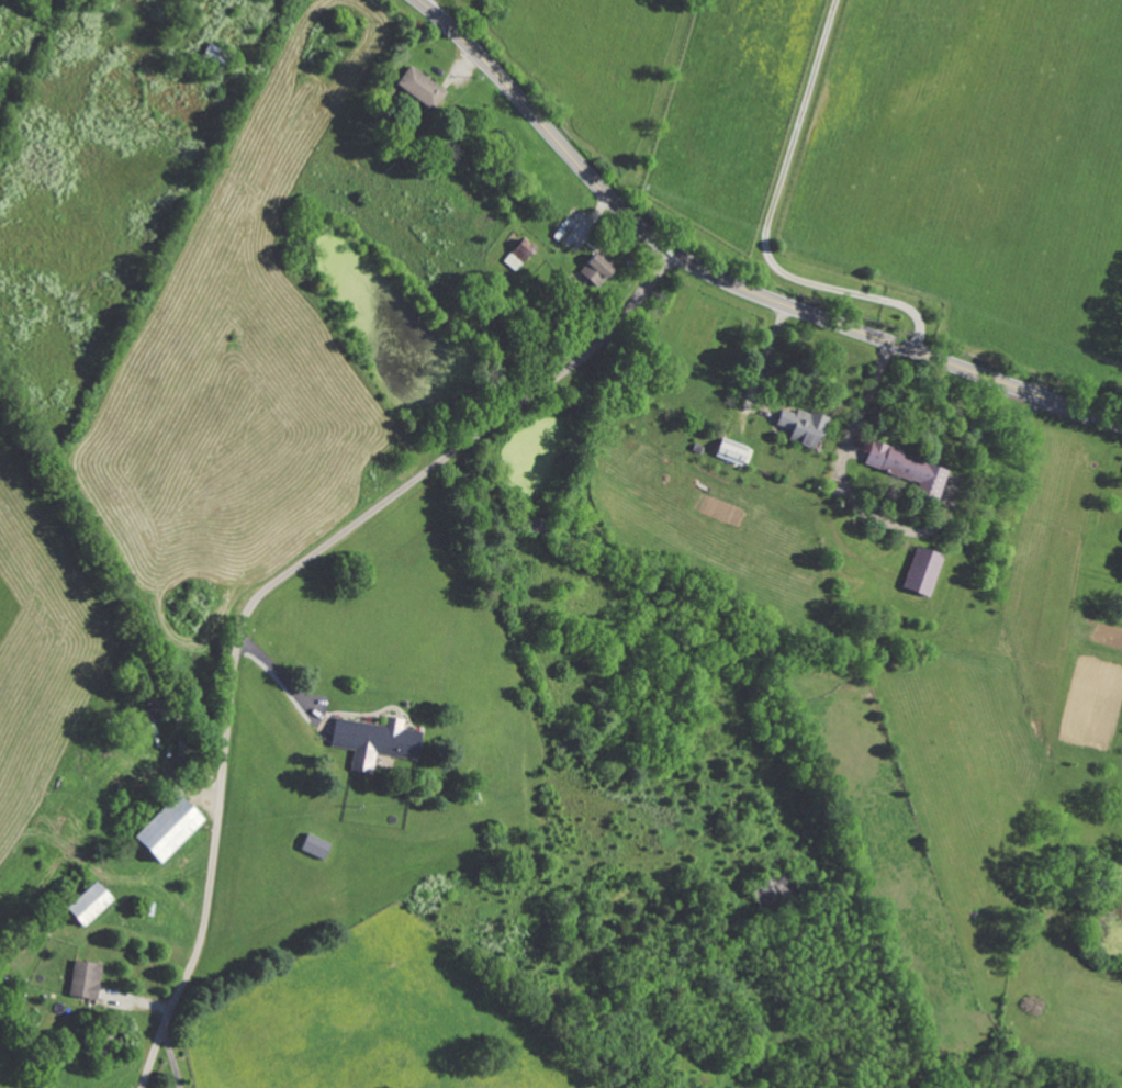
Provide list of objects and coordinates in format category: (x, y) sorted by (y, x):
park: (553, 44)
building: (419, 88)
road: (766, 224)
building: (515, 254)
building: (592, 269)
road: (726, 280)
building: (799, 425)
road: (844, 447)
building: (907, 469)
building: (920, 571)
road: (270, 584)
road: (284, 683)
building: (373, 741)
building: (161, 828)
building: (312, 846)
building: (83, 904)
building: (83, 979)
road: (172, 1062)

